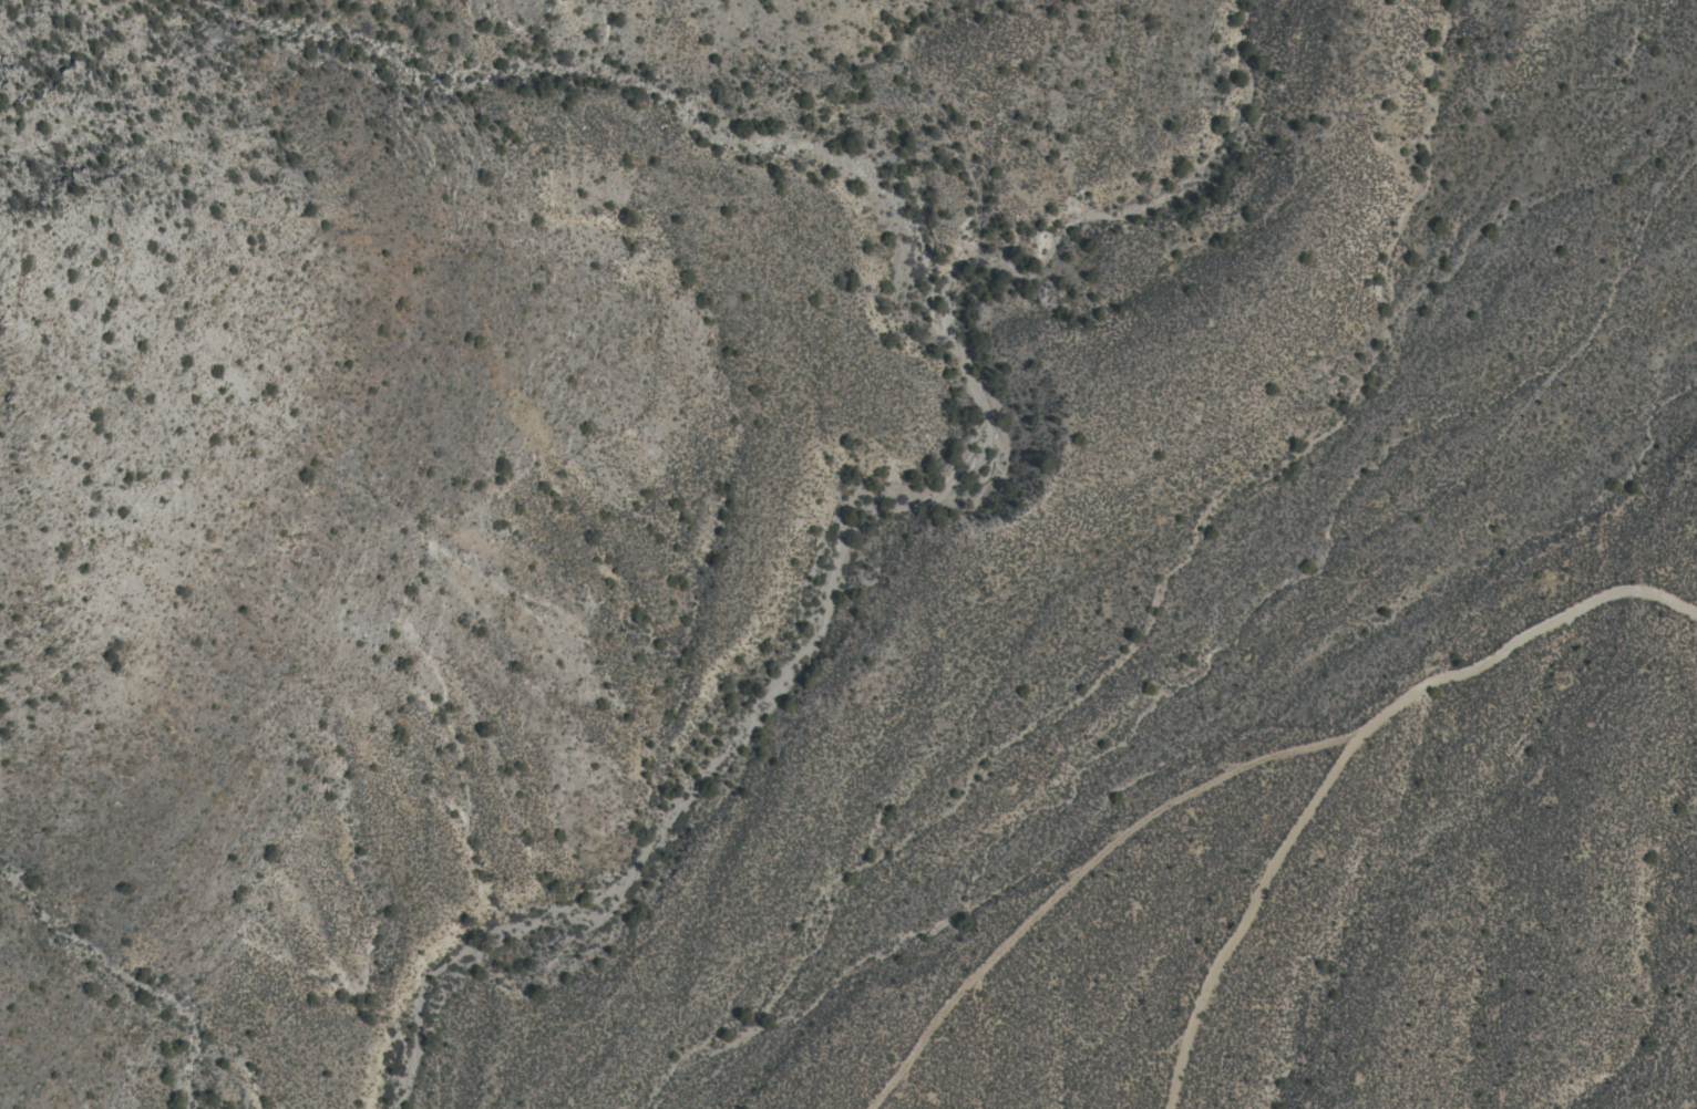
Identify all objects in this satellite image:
road: (1343, 748)
road: (1074, 875)

